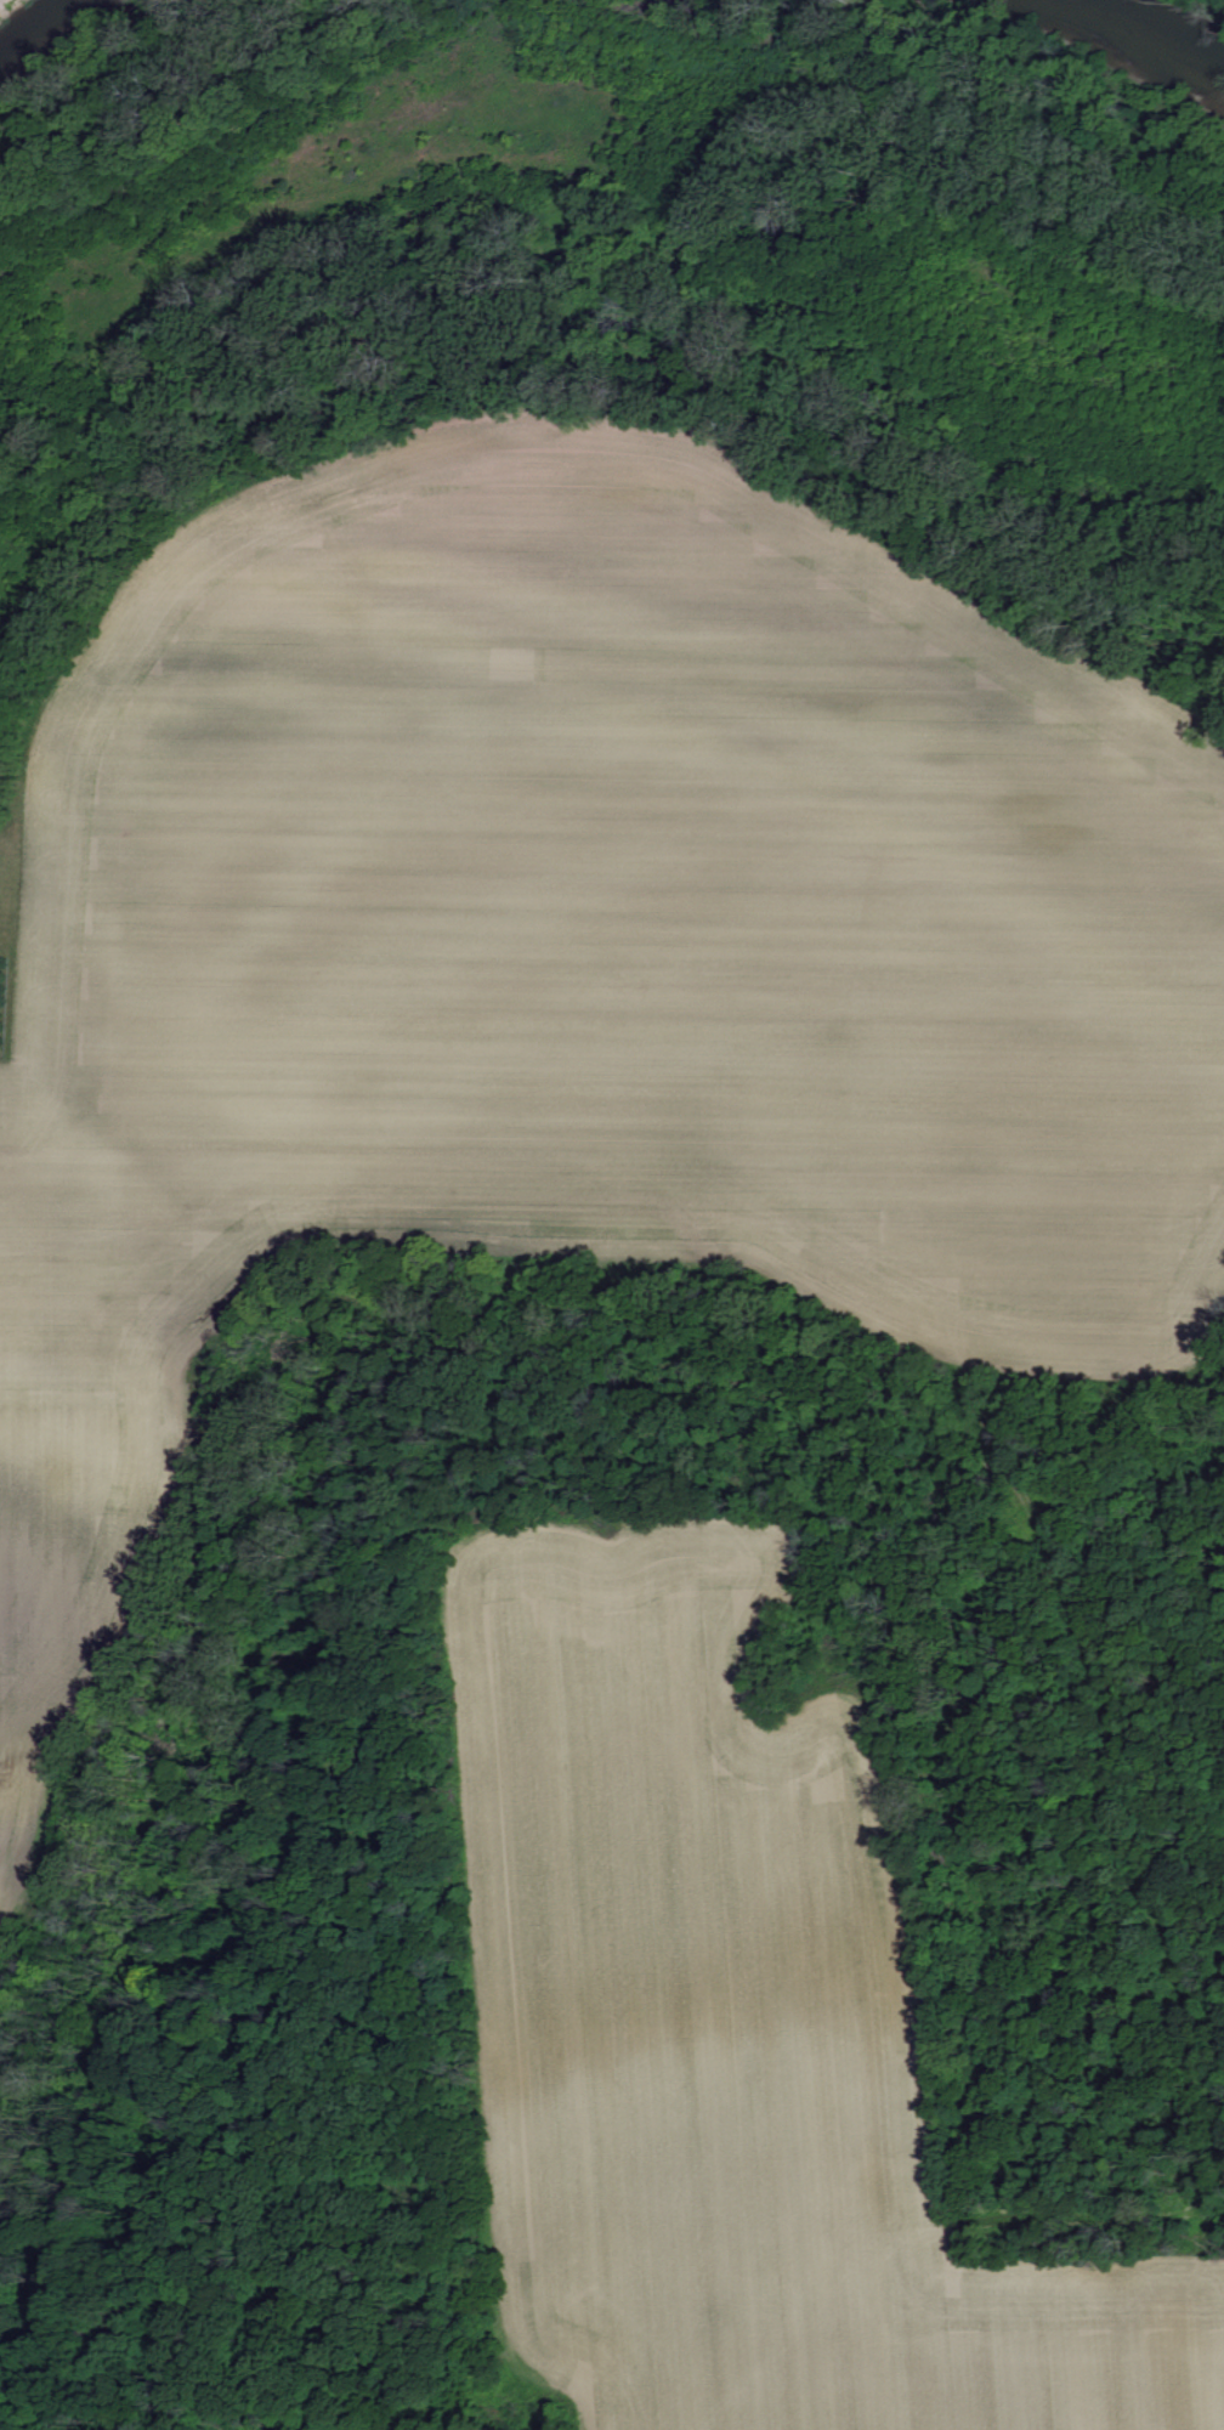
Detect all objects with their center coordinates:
river: (38, 32)
river: (1152, 38)

